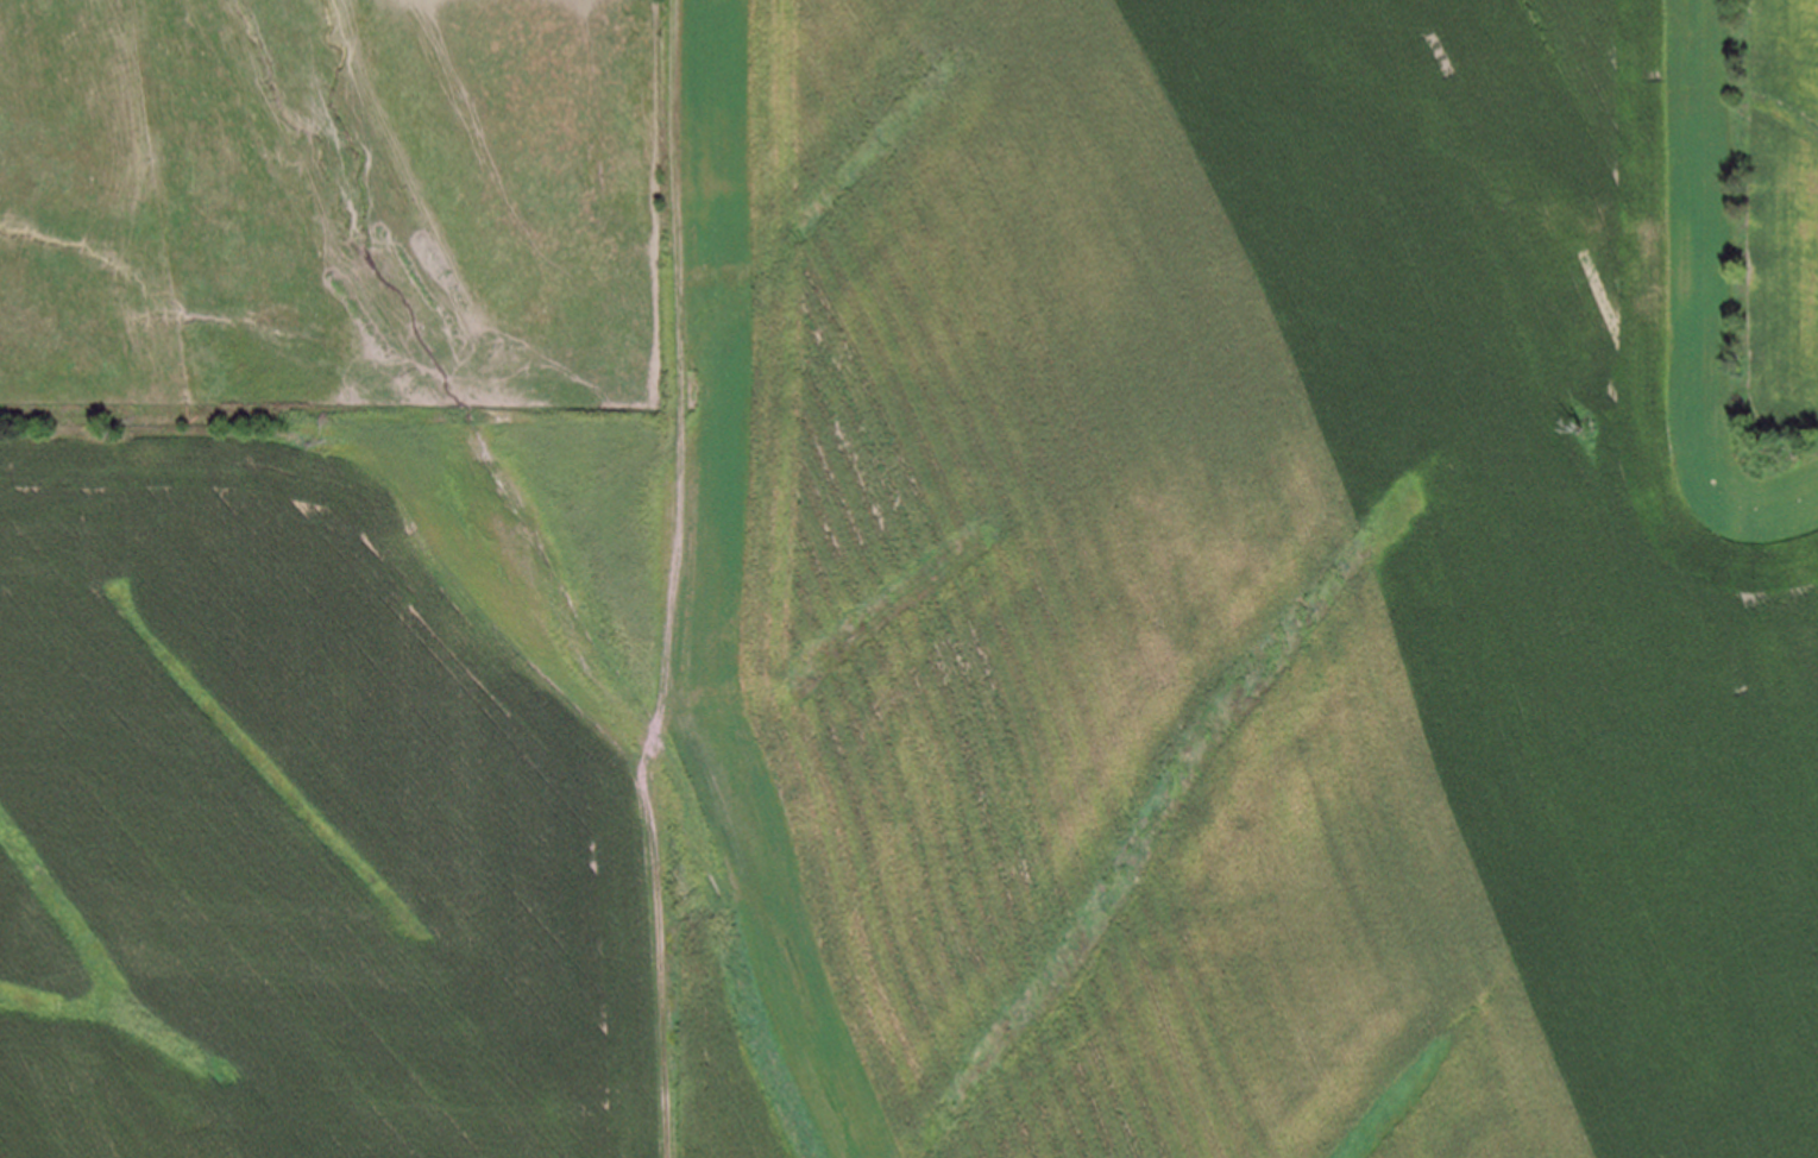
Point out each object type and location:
road: (675, 579)

